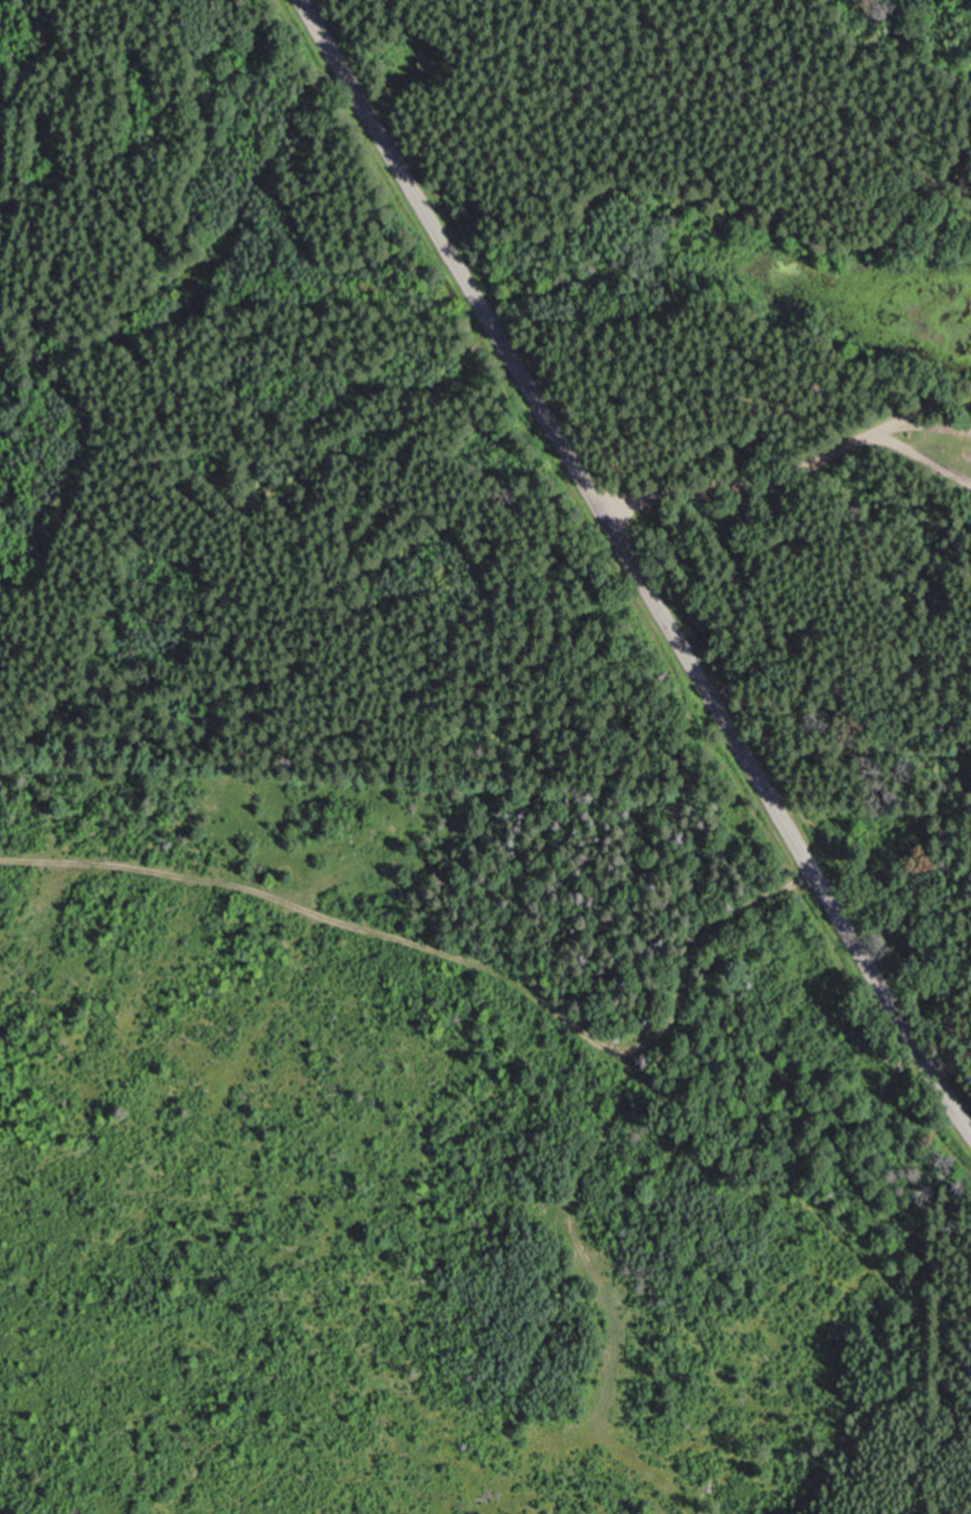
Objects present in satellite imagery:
road: (792, 473)
road: (631, 568)
road: (457, 955)
road: (604, 1292)

